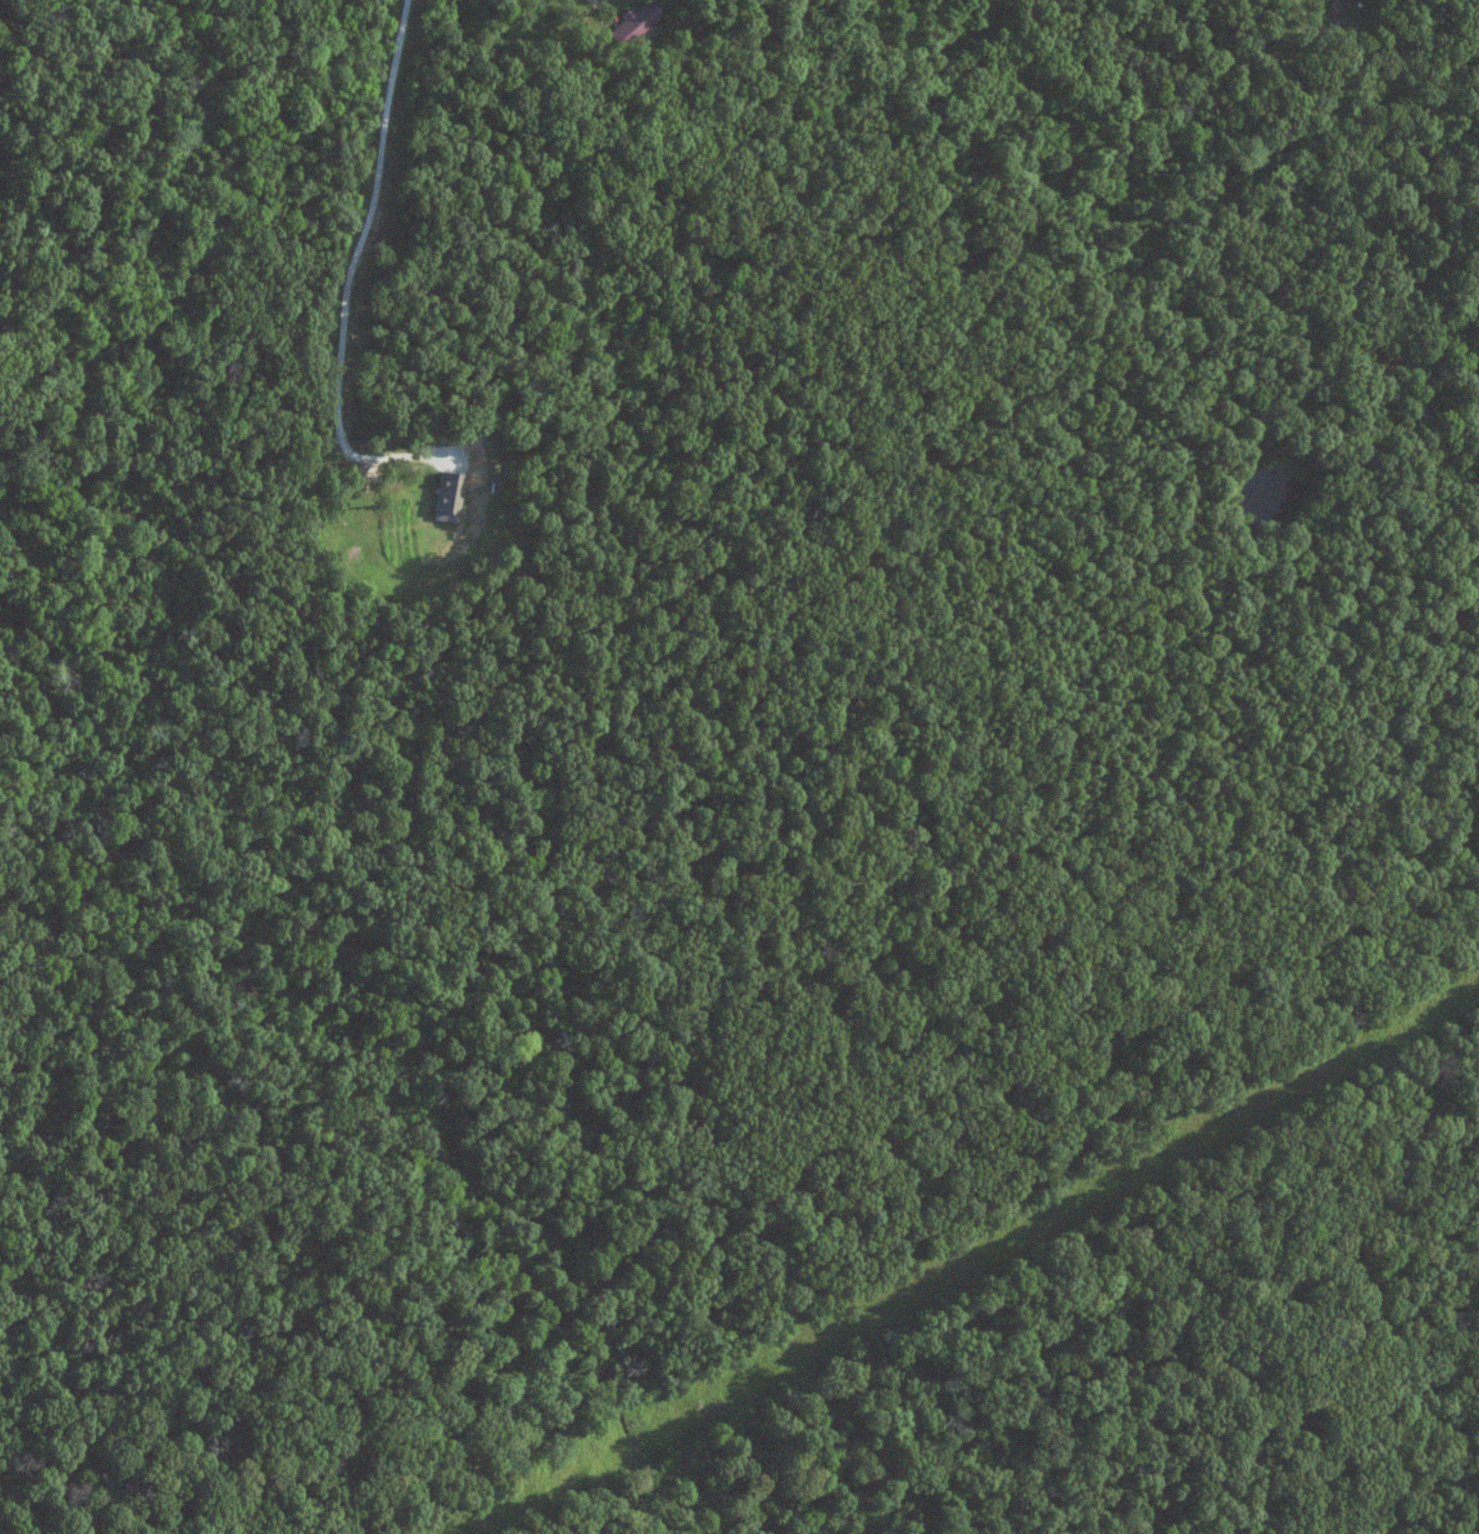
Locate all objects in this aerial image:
road: (594, 7)
building: (632, 22)
road: (348, 279)

